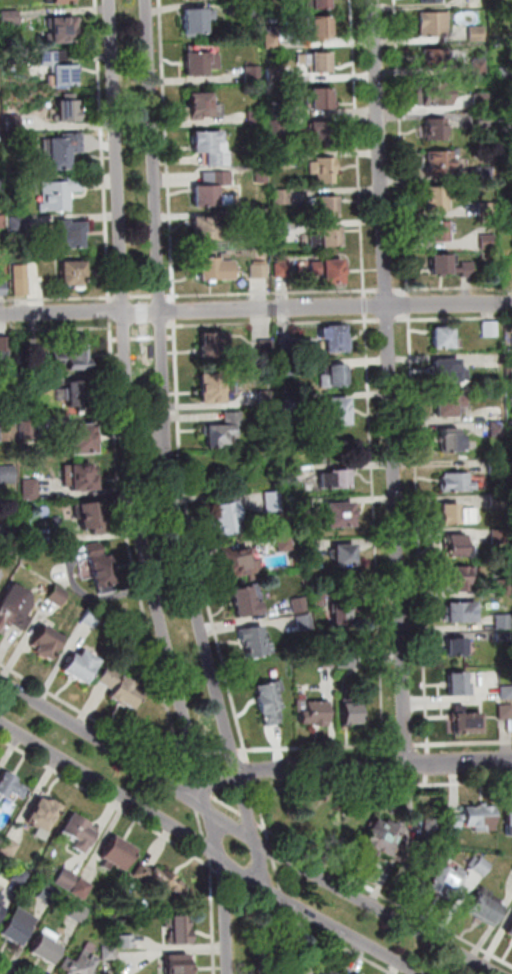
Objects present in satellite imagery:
building: (428, 0)
building: (61, 1)
building: (320, 3)
building: (251, 11)
building: (12, 18)
building: (193, 20)
building: (432, 23)
building: (320, 27)
building: (64, 30)
building: (475, 31)
building: (287, 36)
building: (273, 40)
building: (434, 56)
building: (320, 60)
building: (200, 61)
building: (478, 63)
building: (63, 68)
building: (506, 72)
building: (254, 74)
road: (354, 74)
building: (275, 75)
building: (433, 91)
building: (321, 95)
building: (483, 101)
building: (198, 103)
building: (277, 109)
building: (69, 112)
building: (255, 118)
building: (484, 120)
building: (15, 123)
building: (434, 126)
building: (277, 127)
building: (321, 127)
building: (507, 127)
building: (0, 135)
building: (210, 145)
road: (399, 146)
building: (62, 151)
road: (169, 151)
building: (439, 160)
building: (282, 161)
building: (325, 168)
building: (486, 173)
building: (261, 175)
building: (2, 186)
building: (60, 194)
building: (203, 195)
building: (283, 197)
building: (438, 197)
road: (107, 203)
building: (328, 204)
building: (487, 209)
building: (261, 216)
road: (360, 221)
building: (3, 222)
building: (20, 223)
building: (439, 229)
building: (203, 230)
building: (284, 230)
building: (331, 233)
building: (70, 235)
building: (489, 242)
building: (3, 255)
building: (440, 261)
building: (213, 267)
building: (335, 269)
building: (284, 270)
building: (469, 270)
building: (261, 271)
building: (73, 274)
building: (22, 280)
road: (458, 287)
road: (398, 288)
building: (3, 289)
road: (384, 289)
road: (276, 292)
road: (144, 296)
road: (162, 296)
road: (172, 296)
road: (115, 297)
road: (125, 297)
road: (111, 300)
road: (406, 303)
road: (364, 304)
road: (255, 308)
road: (112, 310)
road: (176, 311)
road: (452, 316)
road: (386, 319)
road: (277, 322)
road: (113, 323)
building: (491, 329)
building: (443, 335)
road: (173, 337)
building: (334, 337)
road: (146, 338)
road: (164, 338)
road: (127, 339)
road: (117, 340)
building: (210, 343)
building: (265, 345)
building: (6, 346)
building: (77, 354)
building: (495, 360)
building: (447, 368)
building: (336, 373)
road: (391, 382)
building: (28, 383)
building: (211, 386)
building: (81, 395)
building: (264, 395)
building: (451, 402)
building: (333, 408)
building: (8, 416)
building: (28, 427)
building: (499, 429)
building: (218, 430)
building: (9, 434)
building: (83, 440)
building: (453, 442)
building: (497, 467)
building: (291, 470)
building: (8, 475)
building: (335, 476)
building: (79, 479)
building: (455, 480)
building: (33, 490)
road: (136, 492)
road: (172, 492)
road: (122, 498)
building: (499, 501)
building: (450, 512)
building: (338, 513)
building: (229, 515)
building: (91, 519)
road: (376, 536)
building: (501, 536)
building: (281, 541)
building: (455, 542)
road: (197, 543)
building: (305, 547)
building: (343, 553)
building: (236, 559)
building: (100, 565)
road: (421, 569)
building: (1, 576)
building: (461, 578)
building: (506, 588)
building: (57, 596)
building: (246, 599)
building: (296, 602)
building: (13, 608)
building: (464, 609)
building: (345, 611)
building: (93, 619)
building: (505, 623)
building: (505, 637)
building: (251, 640)
building: (46, 644)
building: (457, 644)
building: (345, 656)
building: (80, 668)
building: (459, 685)
building: (125, 693)
building: (507, 693)
building: (268, 700)
building: (312, 710)
building: (351, 711)
building: (506, 712)
road: (93, 718)
building: (470, 721)
road: (407, 745)
road: (429, 745)
road: (322, 747)
road: (243, 750)
road: (234, 751)
road: (216, 754)
road: (197, 758)
road: (188, 760)
road: (177, 762)
road: (430, 764)
road: (388, 766)
road: (347, 767)
road: (252, 769)
road: (190, 779)
road: (388, 779)
road: (429, 779)
road: (385, 786)
building: (10, 788)
road: (204, 792)
road: (197, 796)
road: (228, 805)
building: (43, 816)
road: (251, 819)
building: (474, 819)
building: (509, 821)
road: (203, 824)
road: (265, 827)
building: (430, 827)
road: (150, 830)
road: (246, 833)
building: (79, 834)
road: (270, 836)
building: (385, 841)
building: (10, 847)
road: (207, 847)
road: (209, 847)
road: (273, 851)
building: (118, 855)
road: (210, 865)
building: (483, 867)
road: (278, 873)
building: (21, 875)
building: (68, 878)
building: (159, 880)
road: (366, 883)
building: (447, 885)
road: (242, 886)
building: (84, 889)
building: (50, 894)
building: (1, 896)
road: (281, 896)
road: (270, 905)
building: (1, 906)
road: (283, 909)
building: (81, 912)
building: (486, 912)
road: (304, 923)
building: (17, 928)
building: (181, 930)
building: (510, 932)
building: (128, 942)
building: (47, 948)
building: (110, 953)
building: (179, 965)
building: (79, 966)
road: (11, 967)
building: (309, 971)
building: (351, 973)

